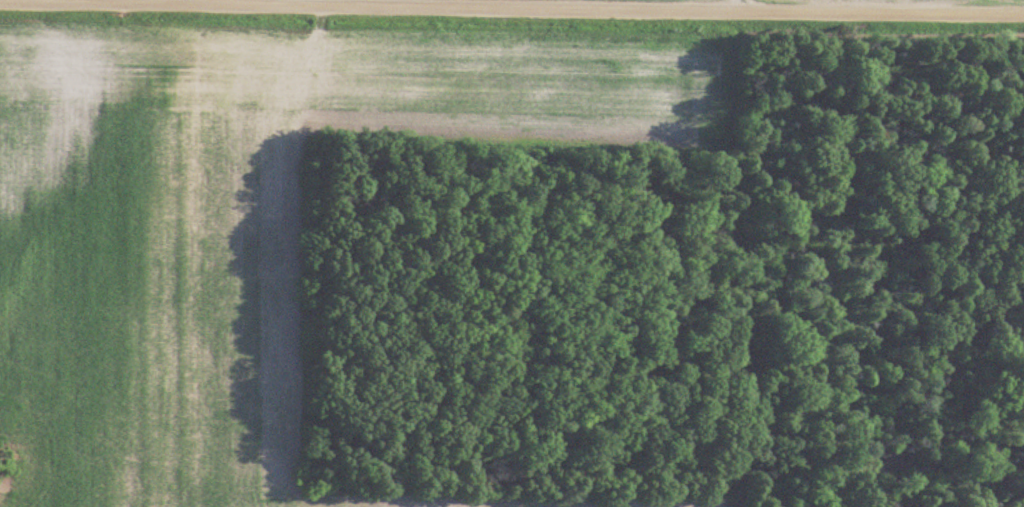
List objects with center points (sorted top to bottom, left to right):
road: (511, 10)

